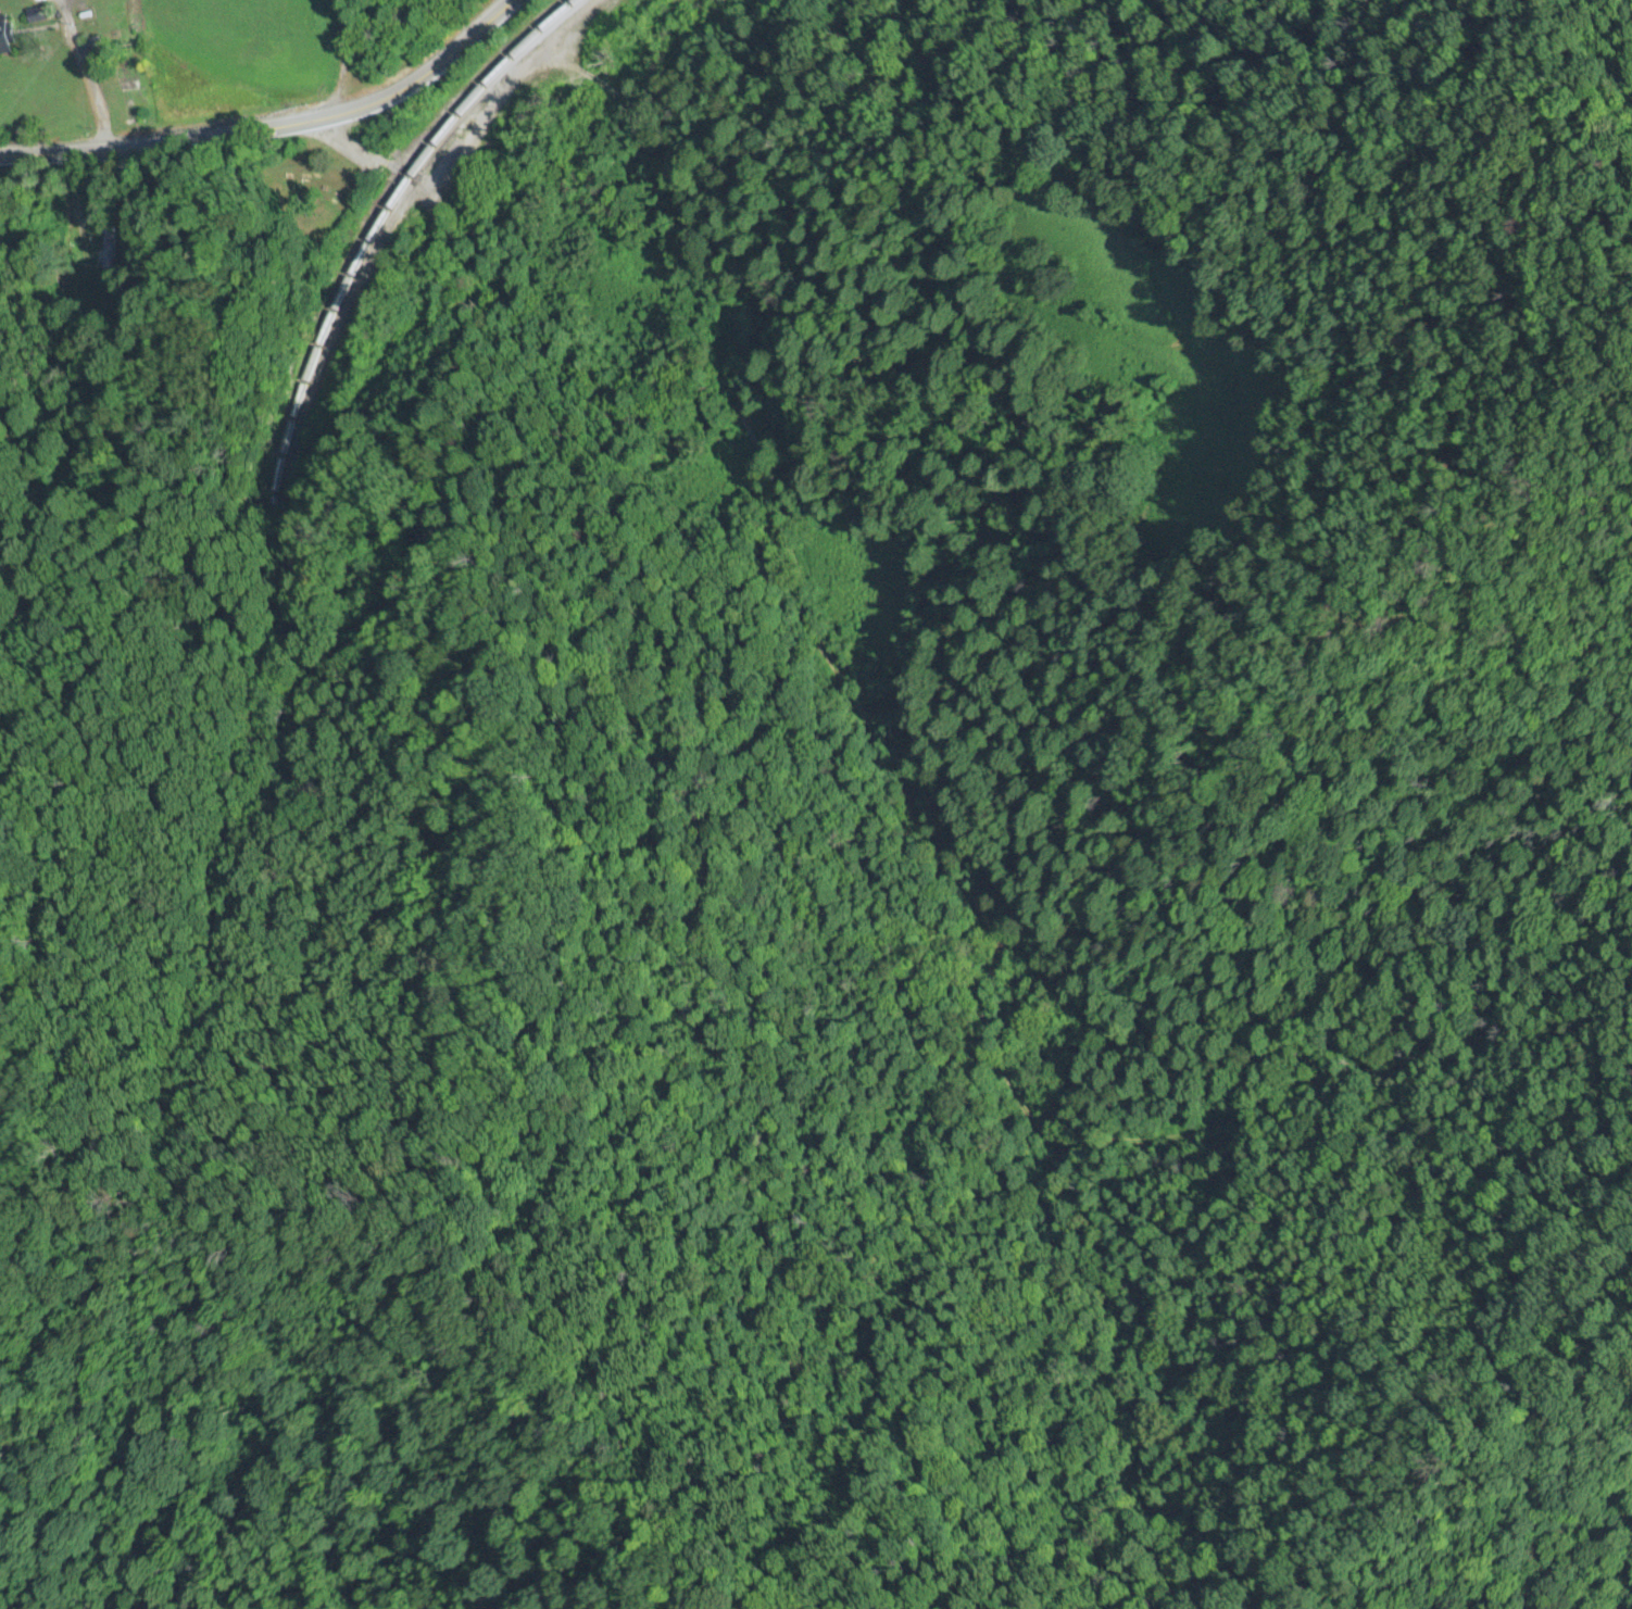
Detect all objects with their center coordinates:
building: (4, 37)
road: (73, 77)
road: (276, 130)
road: (530, 138)
building: (105, 255)
road: (764, 487)
railway: (274, 527)

